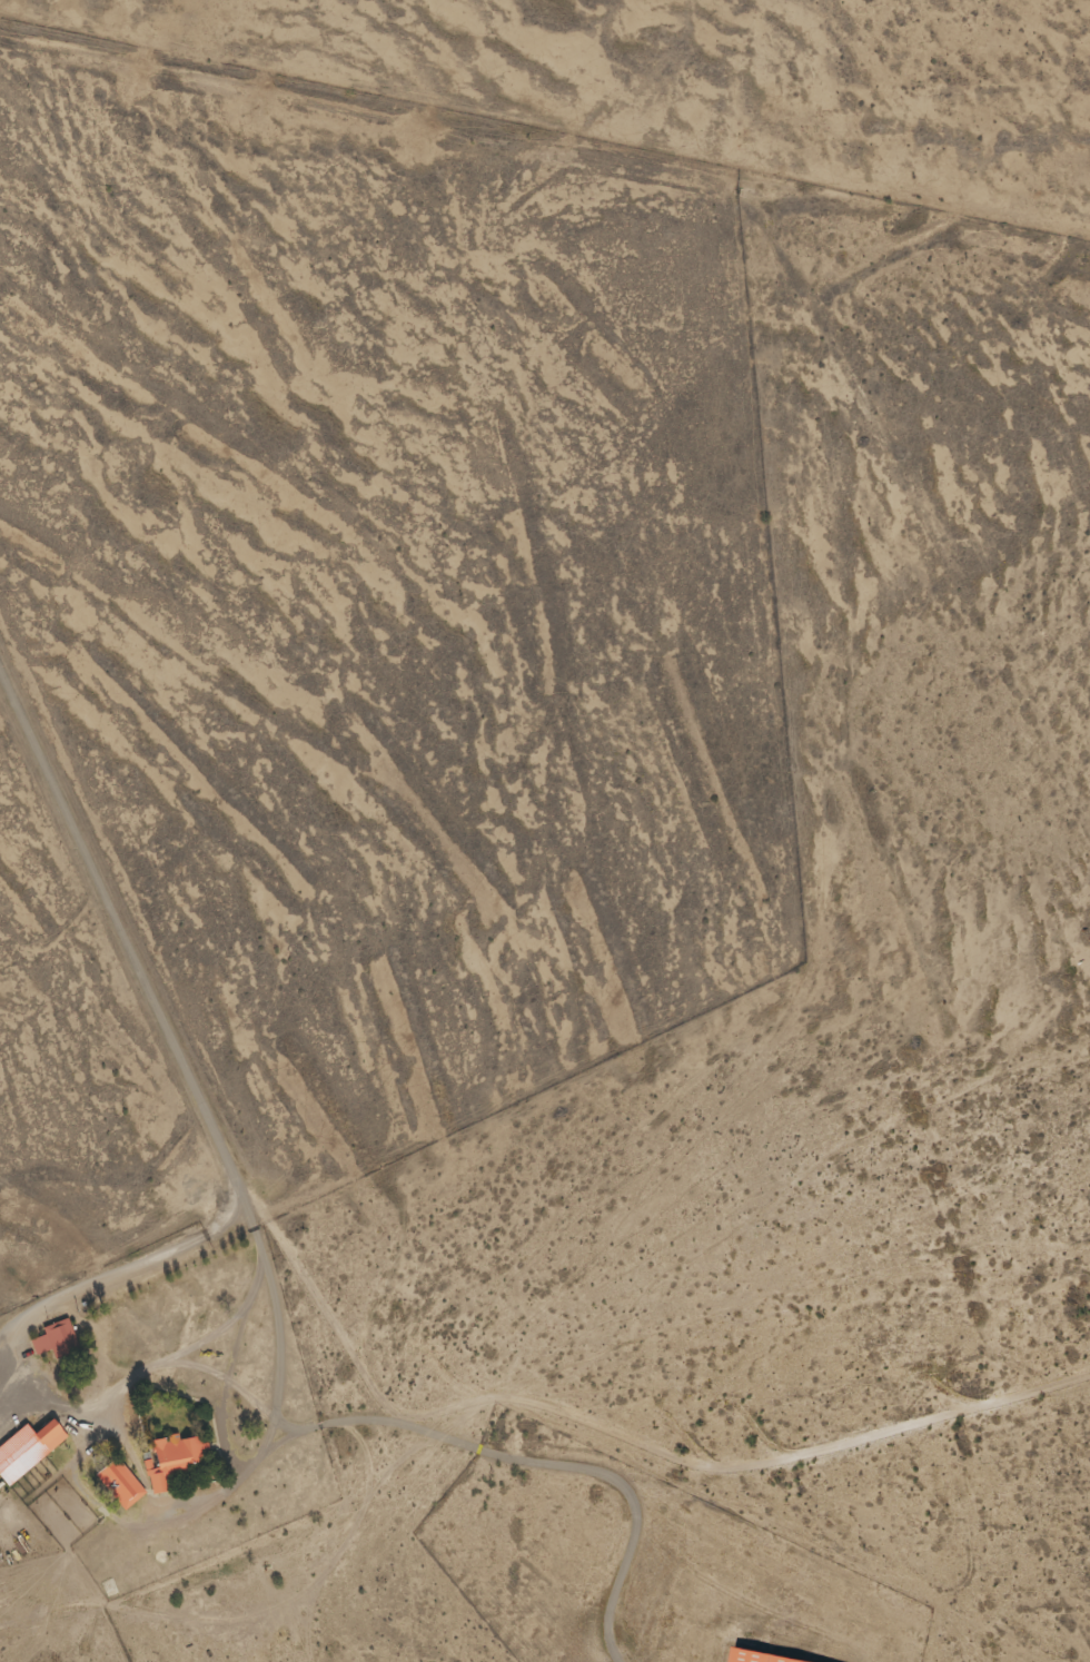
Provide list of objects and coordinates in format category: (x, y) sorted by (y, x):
road: (126, 937)
building: (54, 1339)
building: (26, 1450)
building: (169, 1461)
building: (118, 1484)
airport: (641, 1564)
road: (300, 1589)
building: (790, 1660)

